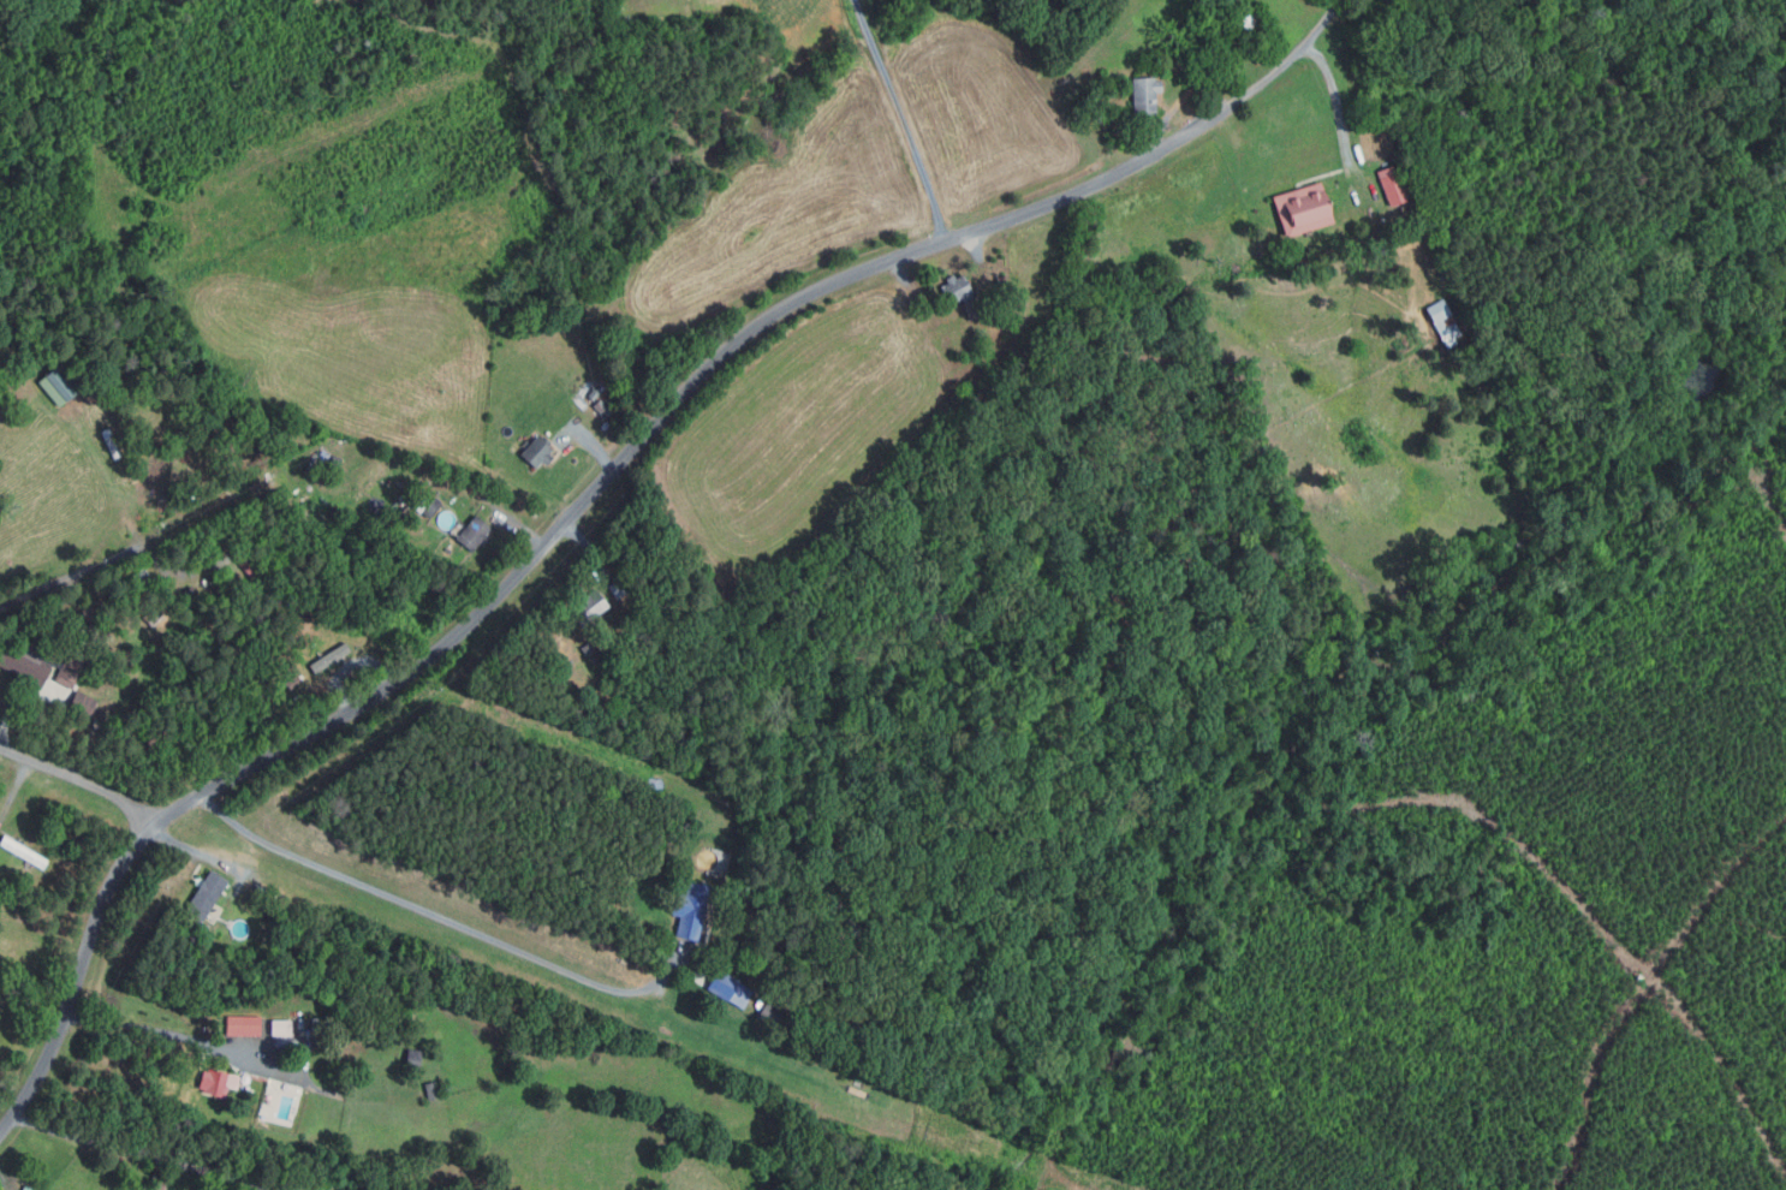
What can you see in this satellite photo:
building: (1242, 20)
road: (1320, 23)
building: (1199, 28)
building: (1257, 53)
building: (1143, 93)
road: (1175, 102)
road: (1336, 103)
building: (1394, 191)
building: (1302, 210)
road: (972, 250)
building: (1001, 280)
building: (960, 294)
building: (1441, 319)
building: (59, 382)
building: (974, 389)
building: (594, 394)
road: (591, 441)
building: (536, 450)
building: (329, 460)
building: (417, 502)
building: (429, 507)
road: (577, 512)
building: (186, 513)
road: (518, 526)
building: (472, 531)
road: (585, 548)
building: (240, 566)
road: (73, 573)
building: (137, 578)
building: (617, 589)
building: (187, 599)
building: (585, 607)
building: (94, 631)
building: (588, 648)
building: (326, 658)
building: (22, 664)
road: (345, 667)
building: (67, 671)
building: (291, 682)
building: (82, 706)
road: (20, 707)
building: (55, 712)
road: (79, 787)
road: (14, 789)
building: (22, 850)
road: (206, 856)
building: (203, 894)
building: (687, 909)
road: (436, 916)
building: (780, 929)
building: (726, 988)
building: (768, 1011)
building: (240, 1025)
building: (280, 1027)
road: (178, 1036)
building: (412, 1061)
building: (215, 1082)
building: (429, 1090)
road: (132, 1152)
building: (159, 1179)
road: (10, 1180)

